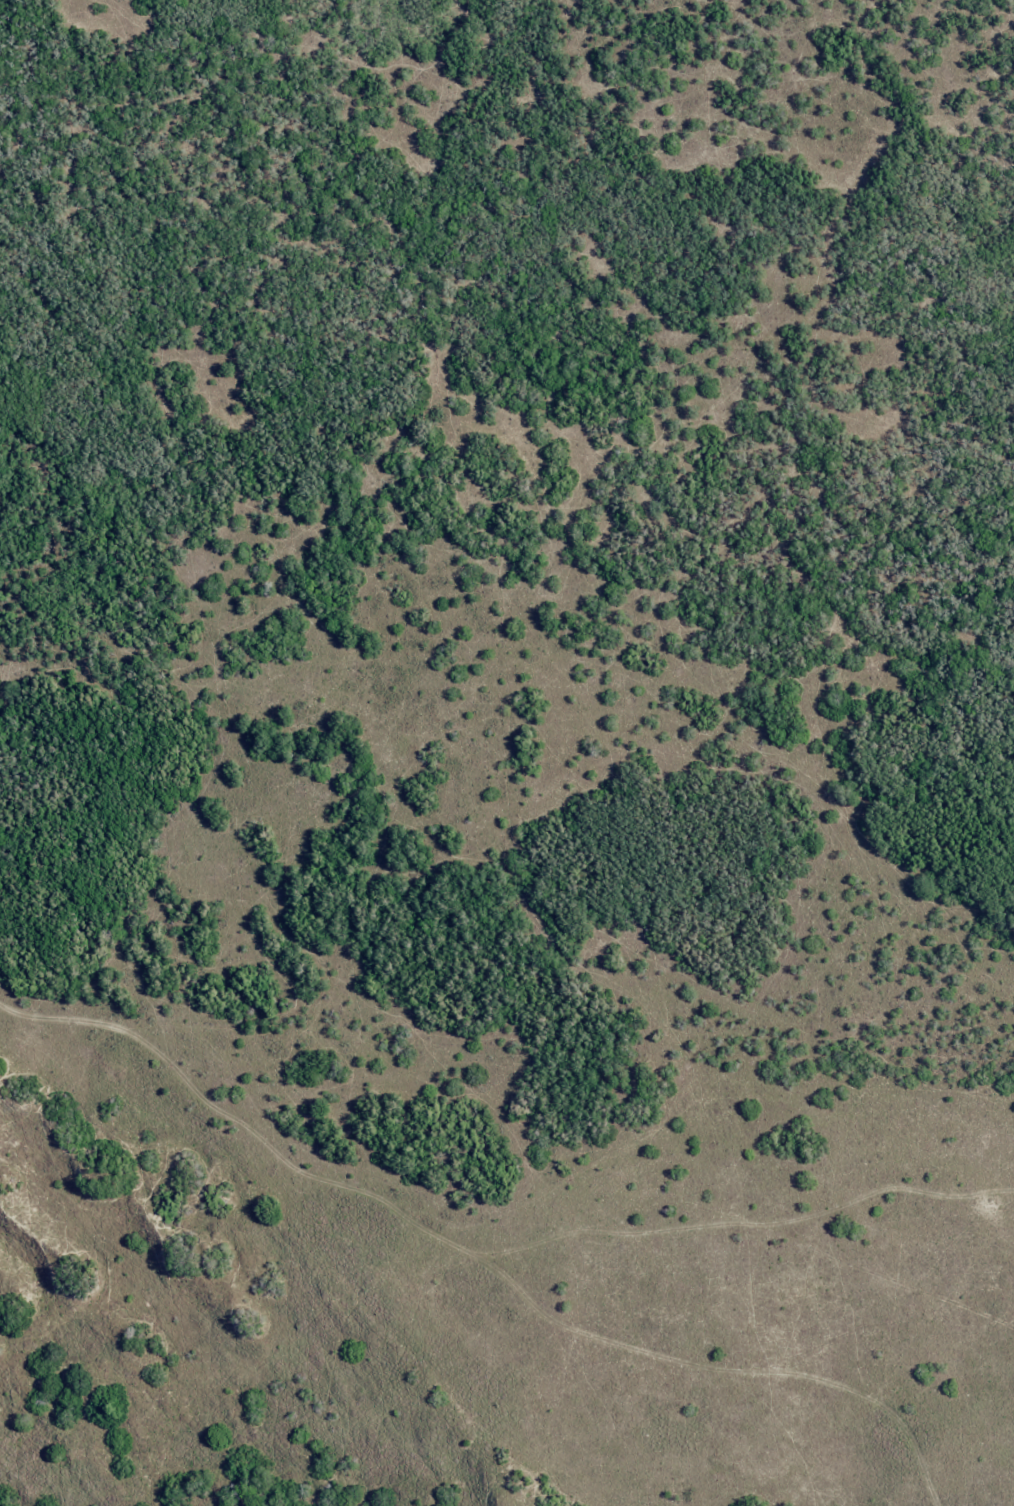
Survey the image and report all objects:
road: (504, 1082)
road: (642, 1293)

